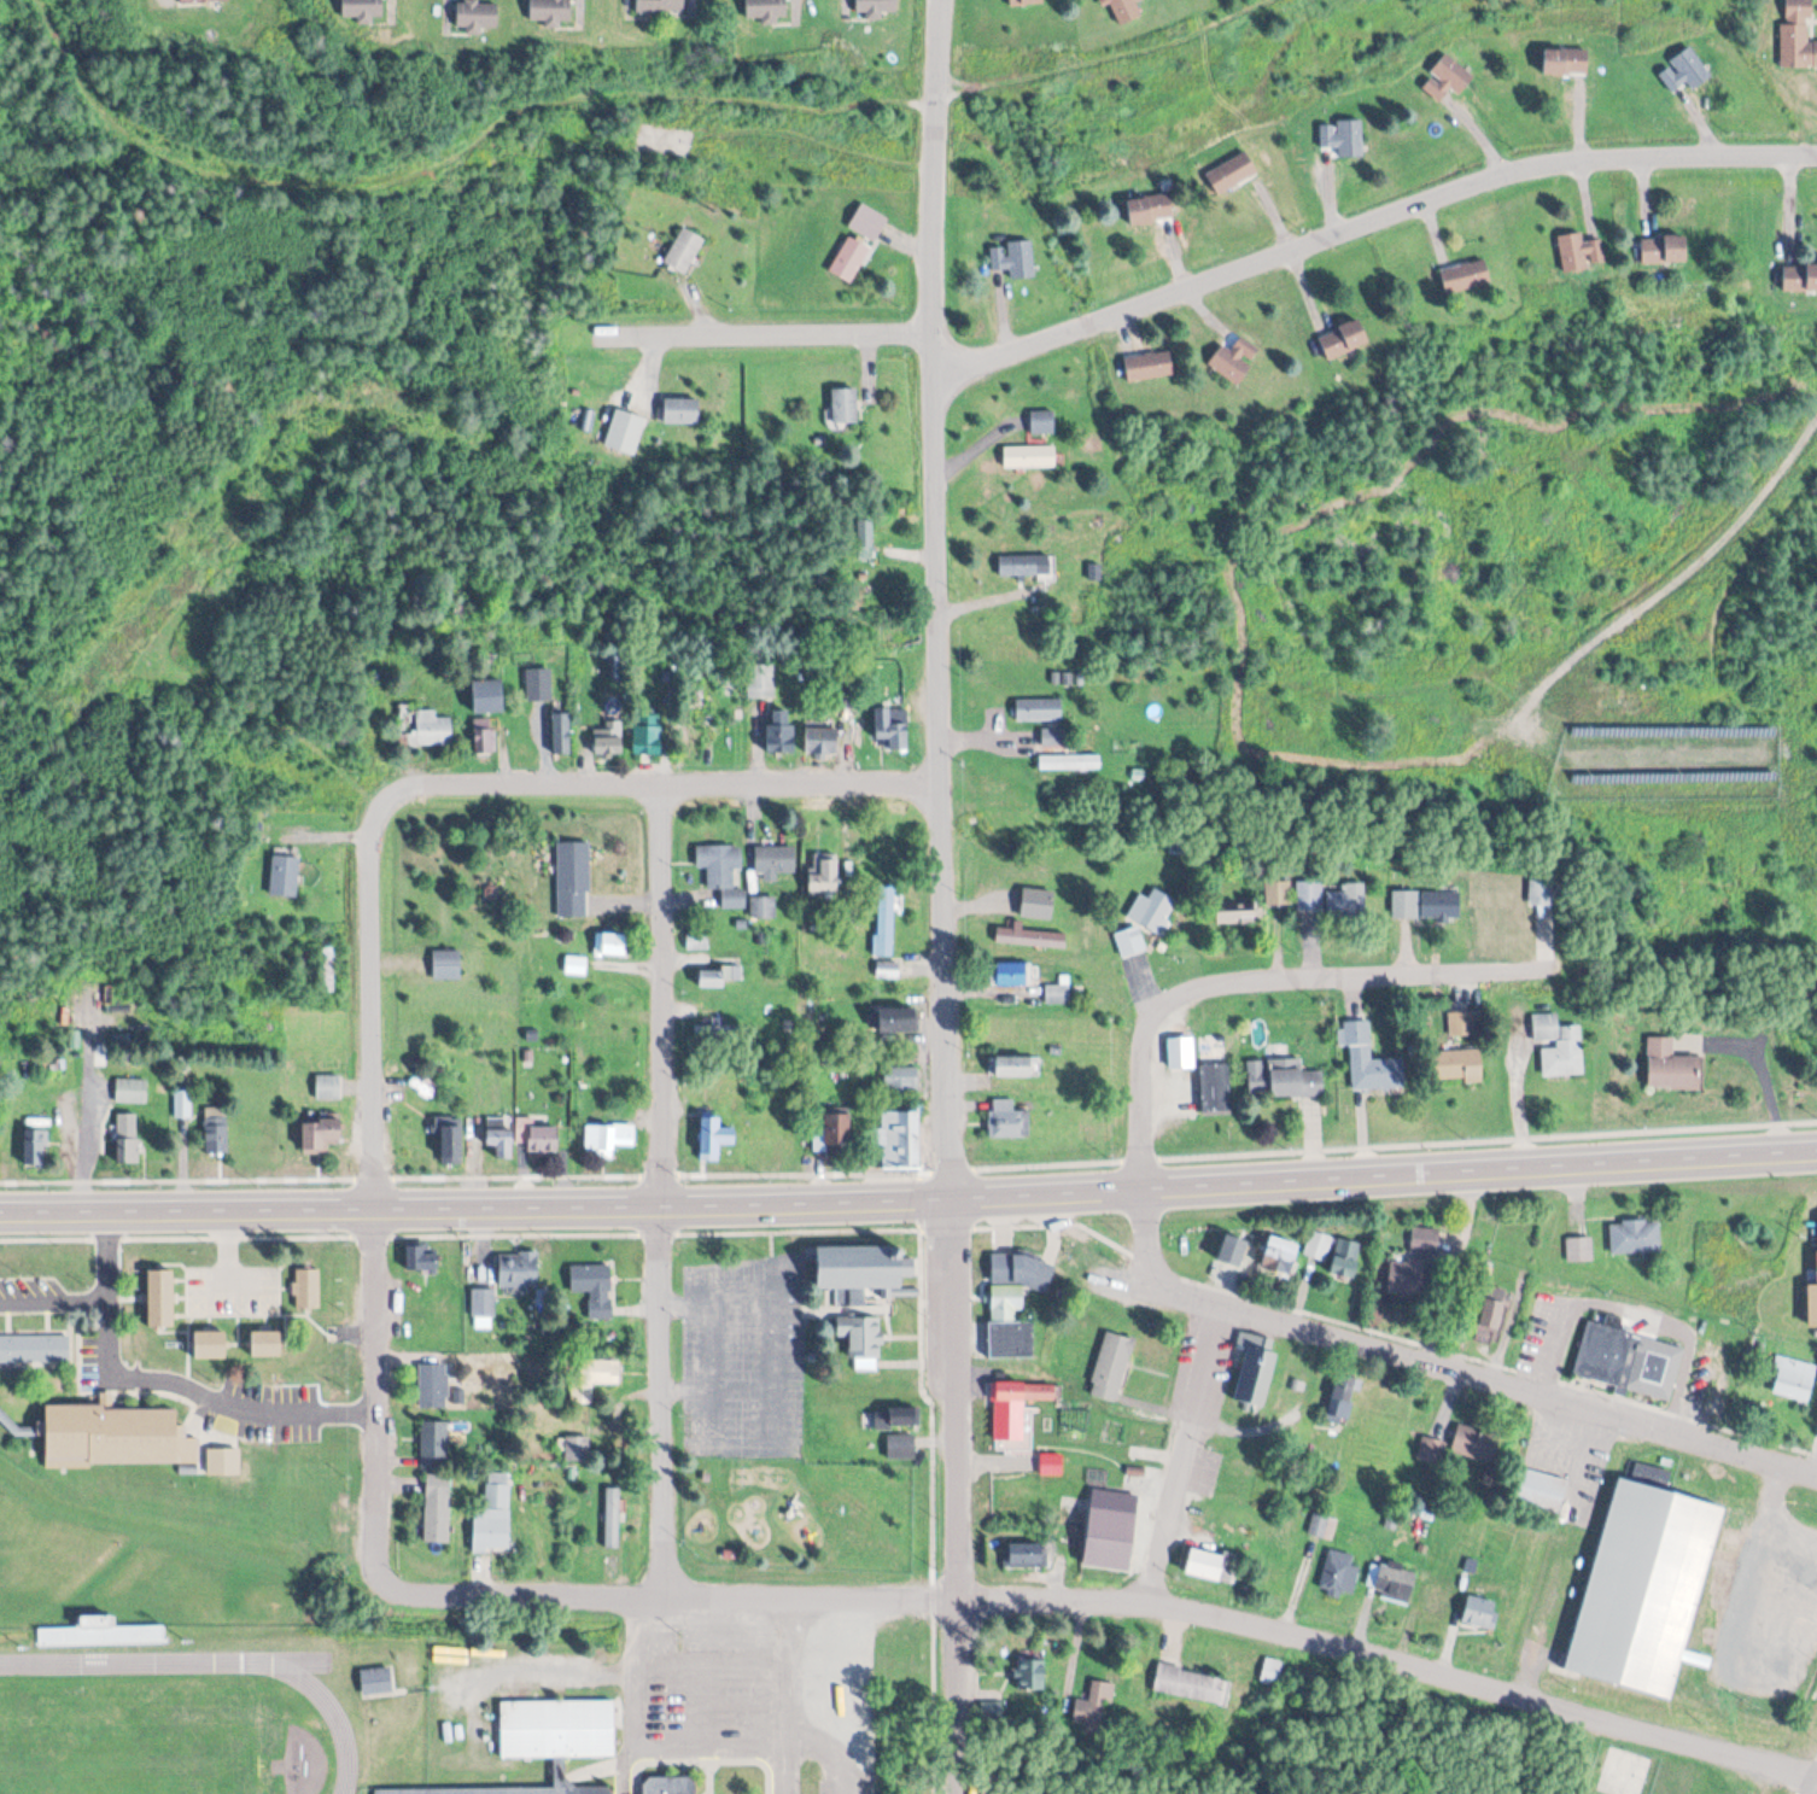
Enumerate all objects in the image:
building: (200, 1)
building: (1026, 2)
building: (660, 6)
building: (876, 6)
building: (362, 8)
building: (766, 10)
building: (550, 11)
building: (1126, 11)
building: (477, 16)
building: (1798, 35)
building: (1566, 63)
building: (1684, 71)
building: (1447, 80)
building: (1343, 139)
building: (1232, 175)
building: (1150, 210)
road: (1371, 223)
building: (1665, 249)
building: (684, 251)
building: (1577, 251)
building: (1013, 258)
building: (849, 259)
building: (1466, 275)
building: (1800, 277)
road: (765, 332)
building: (1344, 339)
building: (1235, 358)
building: (1149, 364)
building: (845, 403)
building: (680, 408)
building: (1041, 420)
building: (624, 429)
building: (1029, 455)
building: (864, 537)
building: (1023, 563)
building: (760, 680)
building: (538, 684)
building: (487, 695)
building: (1039, 709)
building: (423, 726)
building: (892, 727)
building: (561, 734)
building: (781, 734)
building: (647, 735)
building: (484, 736)
building: (608, 738)
building: (820, 738)
building: (1053, 738)
building: (1069, 762)
road: (643, 782)
building: (775, 861)
building: (721, 872)
building: (285, 876)
building: (825, 876)
building: (572, 880)
building: (1276, 894)
road: (941, 896)
building: (1308, 898)
building: (1346, 901)
building: (1038, 904)
building: (1425, 905)
building: (763, 907)
building: (1152, 911)
building: (1237, 914)
building: (1507, 919)
building: (884, 921)
road: (1533, 935)
building: (1029, 937)
building: (696, 941)
building: (1129, 942)
road: (1264, 942)
road: (1298, 943)
road: (1394, 943)
building: (619, 945)
building: (446, 964)
building: (1010, 972)
road: (1337, 972)
building: (712, 977)
road: (1137, 988)
building: (1057, 993)
building: (898, 1018)
building: (715, 1033)
building: (1559, 1045)
building: (1180, 1051)
building: (1369, 1058)
building: (1671, 1062)
building: (1456, 1064)
building: (1016, 1065)
building: (900, 1077)
building: (1283, 1077)
road: (1505, 1085)
building: (327, 1086)
building: (1215, 1086)
building: (130, 1089)
road: (1139, 1110)
building: (1007, 1118)
building: (836, 1128)
building: (215, 1129)
building: (321, 1134)
building: (498, 1134)
road: (1352, 1134)
building: (713, 1135)
building: (537, 1136)
building: (128, 1138)
building: (608, 1138)
building: (451, 1139)
building: (898, 1139)
road: (1301, 1140)
building: (35, 1146)
road: (908, 1199)
road: (373, 1214)
building: (1635, 1235)
building: (1318, 1245)
building: (1233, 1249)
building: (1579, 1249)
road: (222, 1254)
building: (1280, 1255)
building: (421, 1256)
building: (1346, 1258)
building: (1009, 1266)
building: (516, 1269)
building: (1408, 1279)
building: (858, 1281)
building: (298, 1286)
building: (594, 1287)
building: (150, 1292)
parking lot: (227, 1293)
parking lot: (28, 1298)
building: (1811, 1299)
road: (92, 1301)
building: (481, 1303)
building: (1491, 1315)
building: (998, 1337)
building: (256, 1338)
building: (198, 1340)
building: (861, 1340)
building: (28, 1345)
parking lot: (743, 1355)
building: (1628, 1360)
road: (1436, 1362)
road: (664, 1363)
parking lot: (93, 1366)
building: (1110, 1366)
building: (1254, 1368)
building: (592, 1377)
building: (1794, 1379)
building: (432, 1385)
building: (1023, 1391)
building: (1343, 1397)
road: (198, 1399)
building: (896, 1419)
parking lot: (256, 1420)
building: (1028, 1422)
building: (103, 1433)
building: (436, 1442)
building: (1476, 1445)
building: (900, 1447)
road: (1180, 1449)
building: (1432, 1449)
building: (215, 1459)
road: (1585, 1460)
building: (1051, 1465)
building: (179, 1468)
building: (1541, 1492)
building: (437, 1509)
building: (492, 1517)
building: (610, 1518)
building: (1322, 1526)
building: (1110, 1530)
building: (1028, 1555)
building: (1207, 1565)
building: (1339, 1572)
building: (1395, 1582)
building: (1647, 1585)
road: (1123, 1596)
building: (1471, 1609)
building: (101, 1632)
building: (1272, 1671)
road: (1527, 1671)
building: (375, 1679)
building: (1191, 1683)
building: (1094, 1702)
track: (337, 1719)
building: (547, 1734)
park: (134, 1740)
building: (660, 1783)

